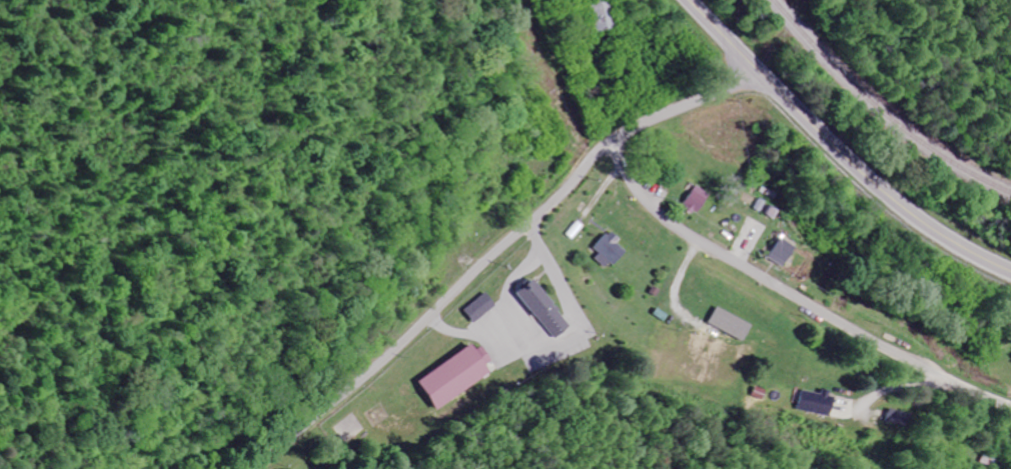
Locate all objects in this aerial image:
railway: (881, 108)
road: (837, 148)
building: (701, 200)
building: (613, 250)
road: (497, 252)
building: (788, 254)
road: (796, 291)
building: (483, 308)
building: (548, 311)
building: (736, 325)
building: (462, 377)
building: (824, 404)

